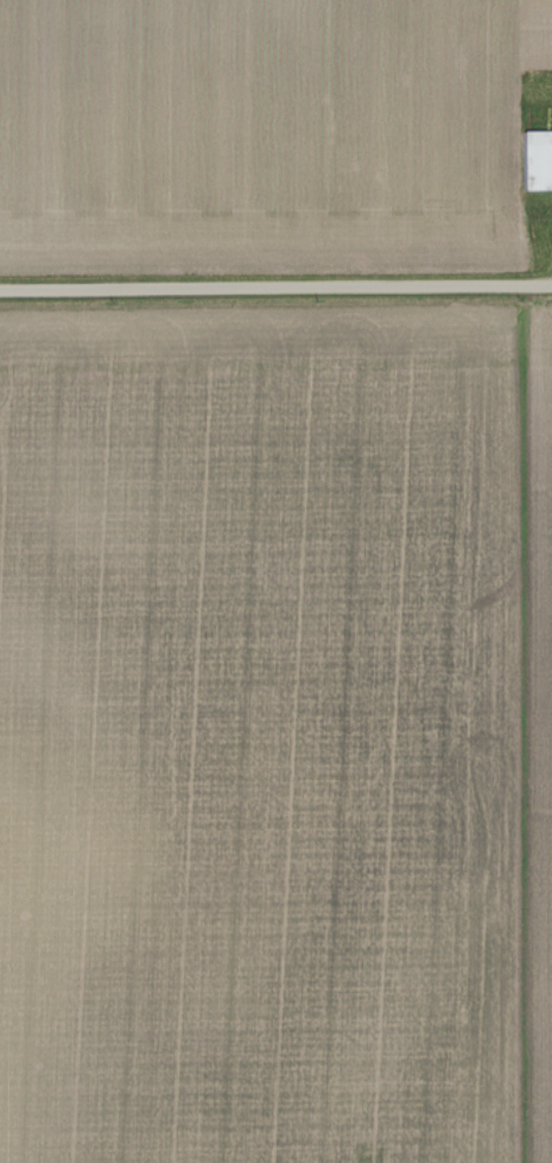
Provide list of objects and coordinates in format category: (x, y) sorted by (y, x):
road: (275, 286)

